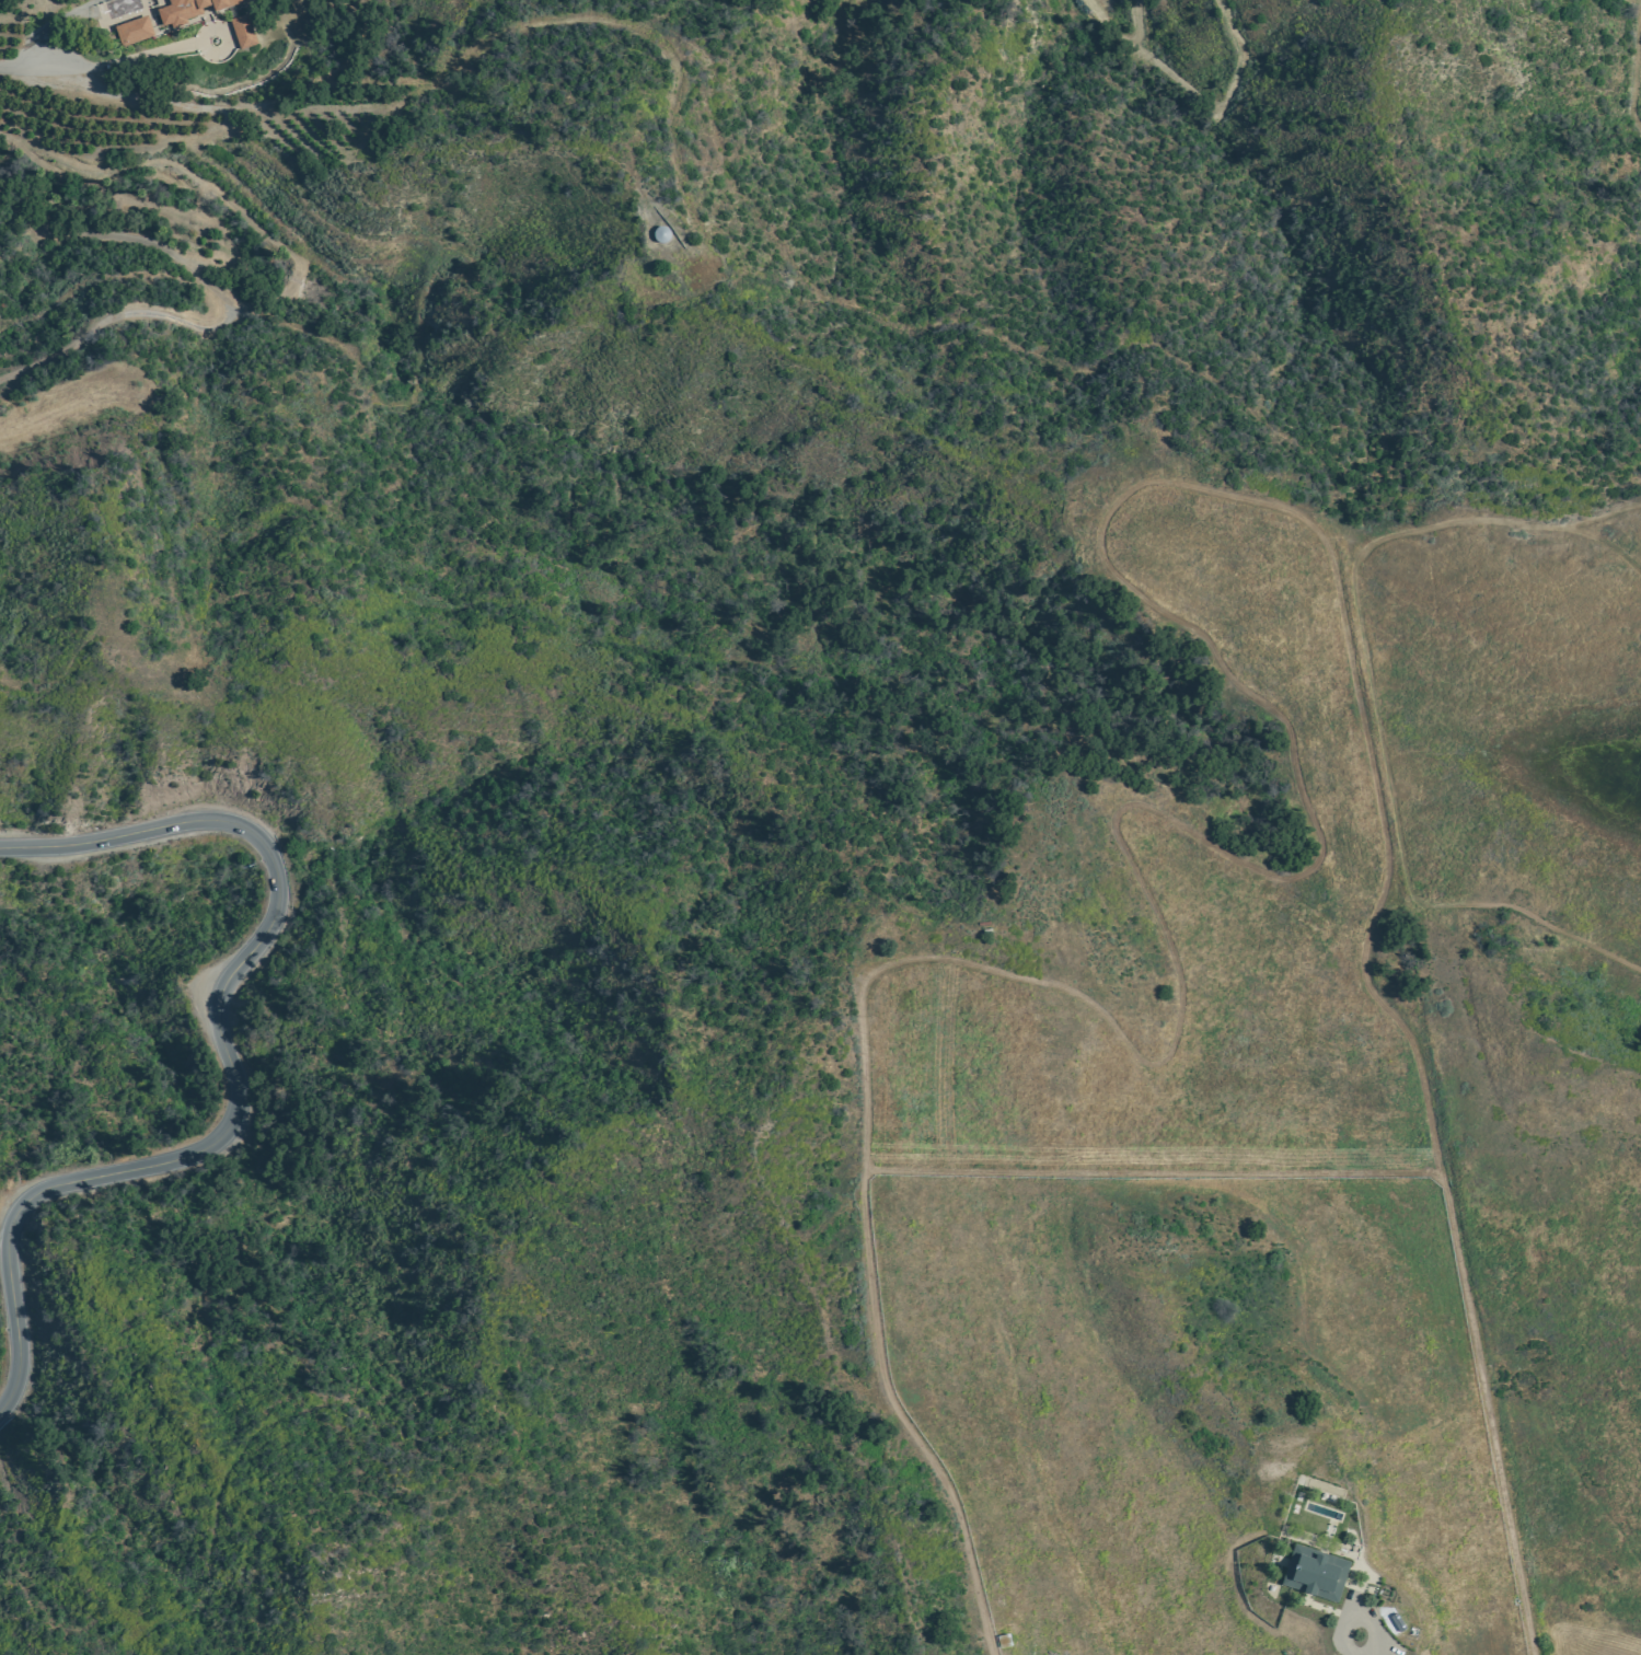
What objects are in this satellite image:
building: (160, 3)
building: (190, 9)
building: (132, 31)
building: (242, 31)
road: (50, 40)
road: (461, 66)
road: (1634, 66)
road: (1195, 89)
road: (967, 319)
road: (1499, 512)
road: (184, 622)
road: (563, 622)
road: (1364, 717)
road: (224, 1050)
building: (1319, 1573)
road: (1361, 1619)
road: (153, 1623)

